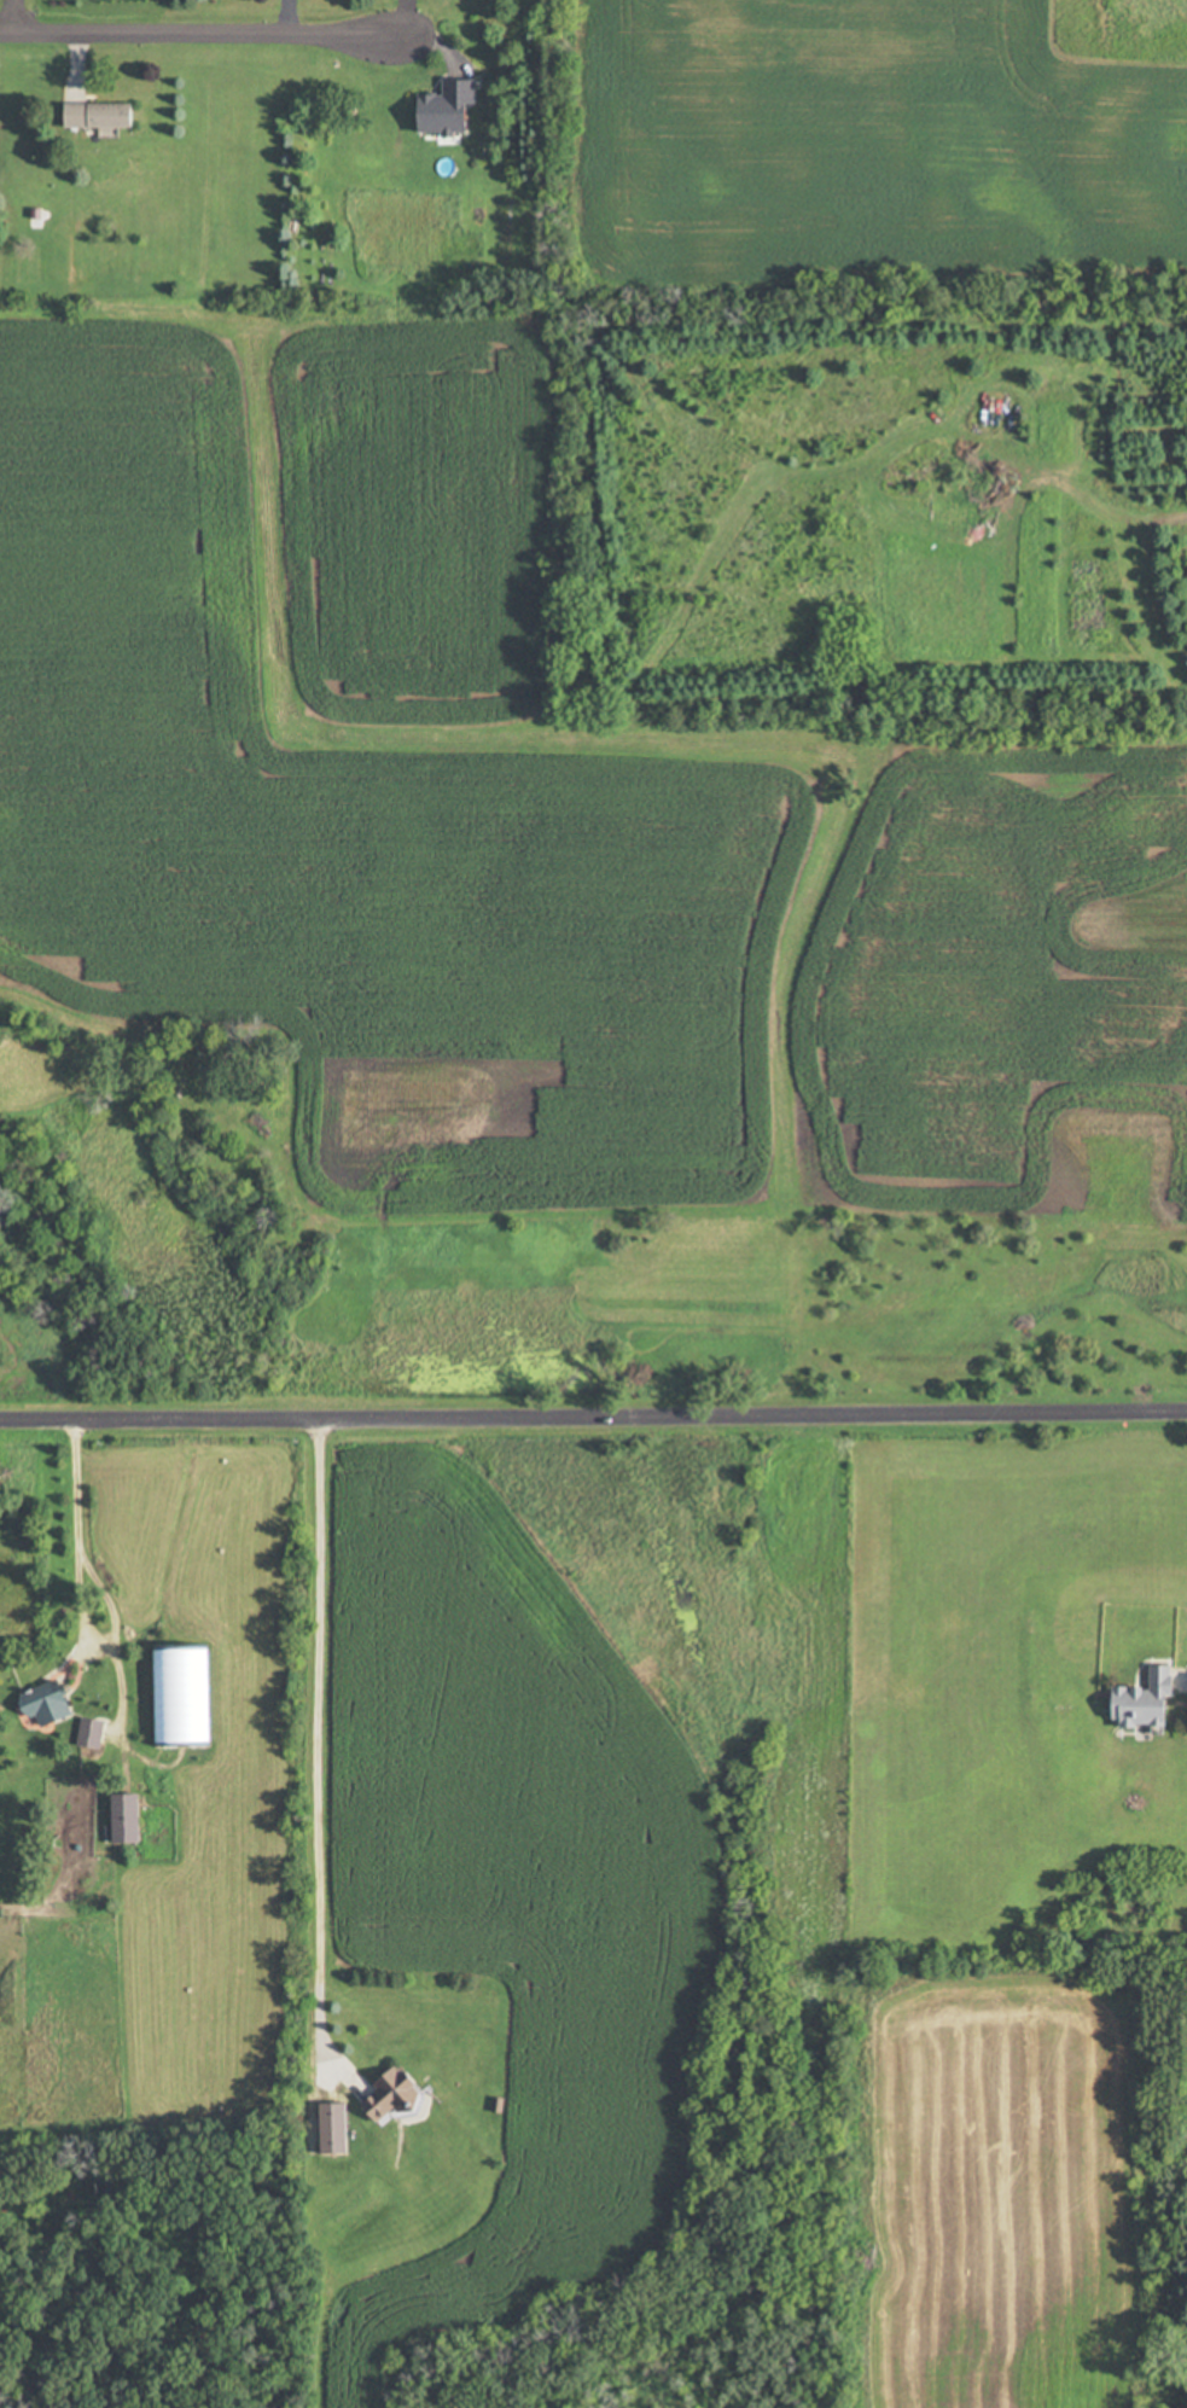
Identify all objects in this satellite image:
road: (11, 14)
road: (197, 29)
building: (104, 115)
road: (593, 1421)
road: (83, 1601)
building: (188, 1694)
building: (1154, 1699)
building: (58, 1702)
building: (100, 1732)
road: (324, 1760)
building: (136, 1817)
building: (398, 2095)

